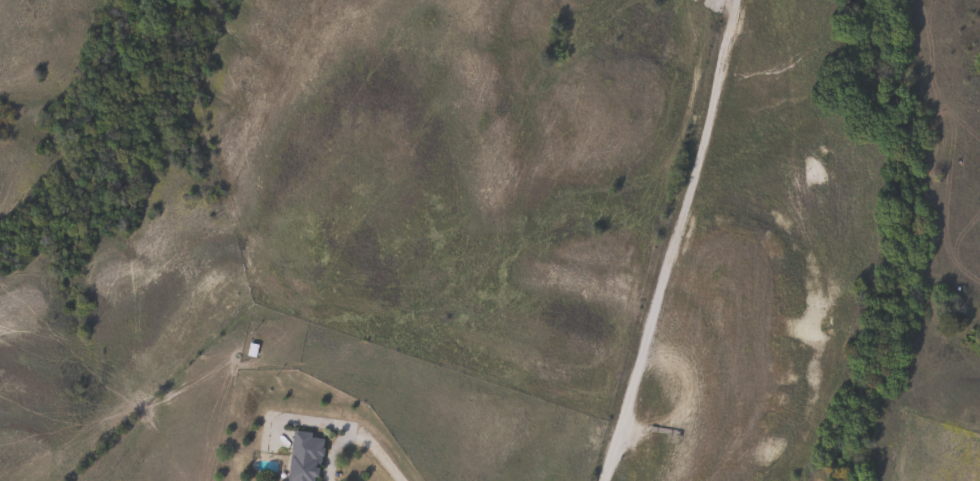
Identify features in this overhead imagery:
road: (672, 241)
road: (356, 437)
building: (302, 457)

